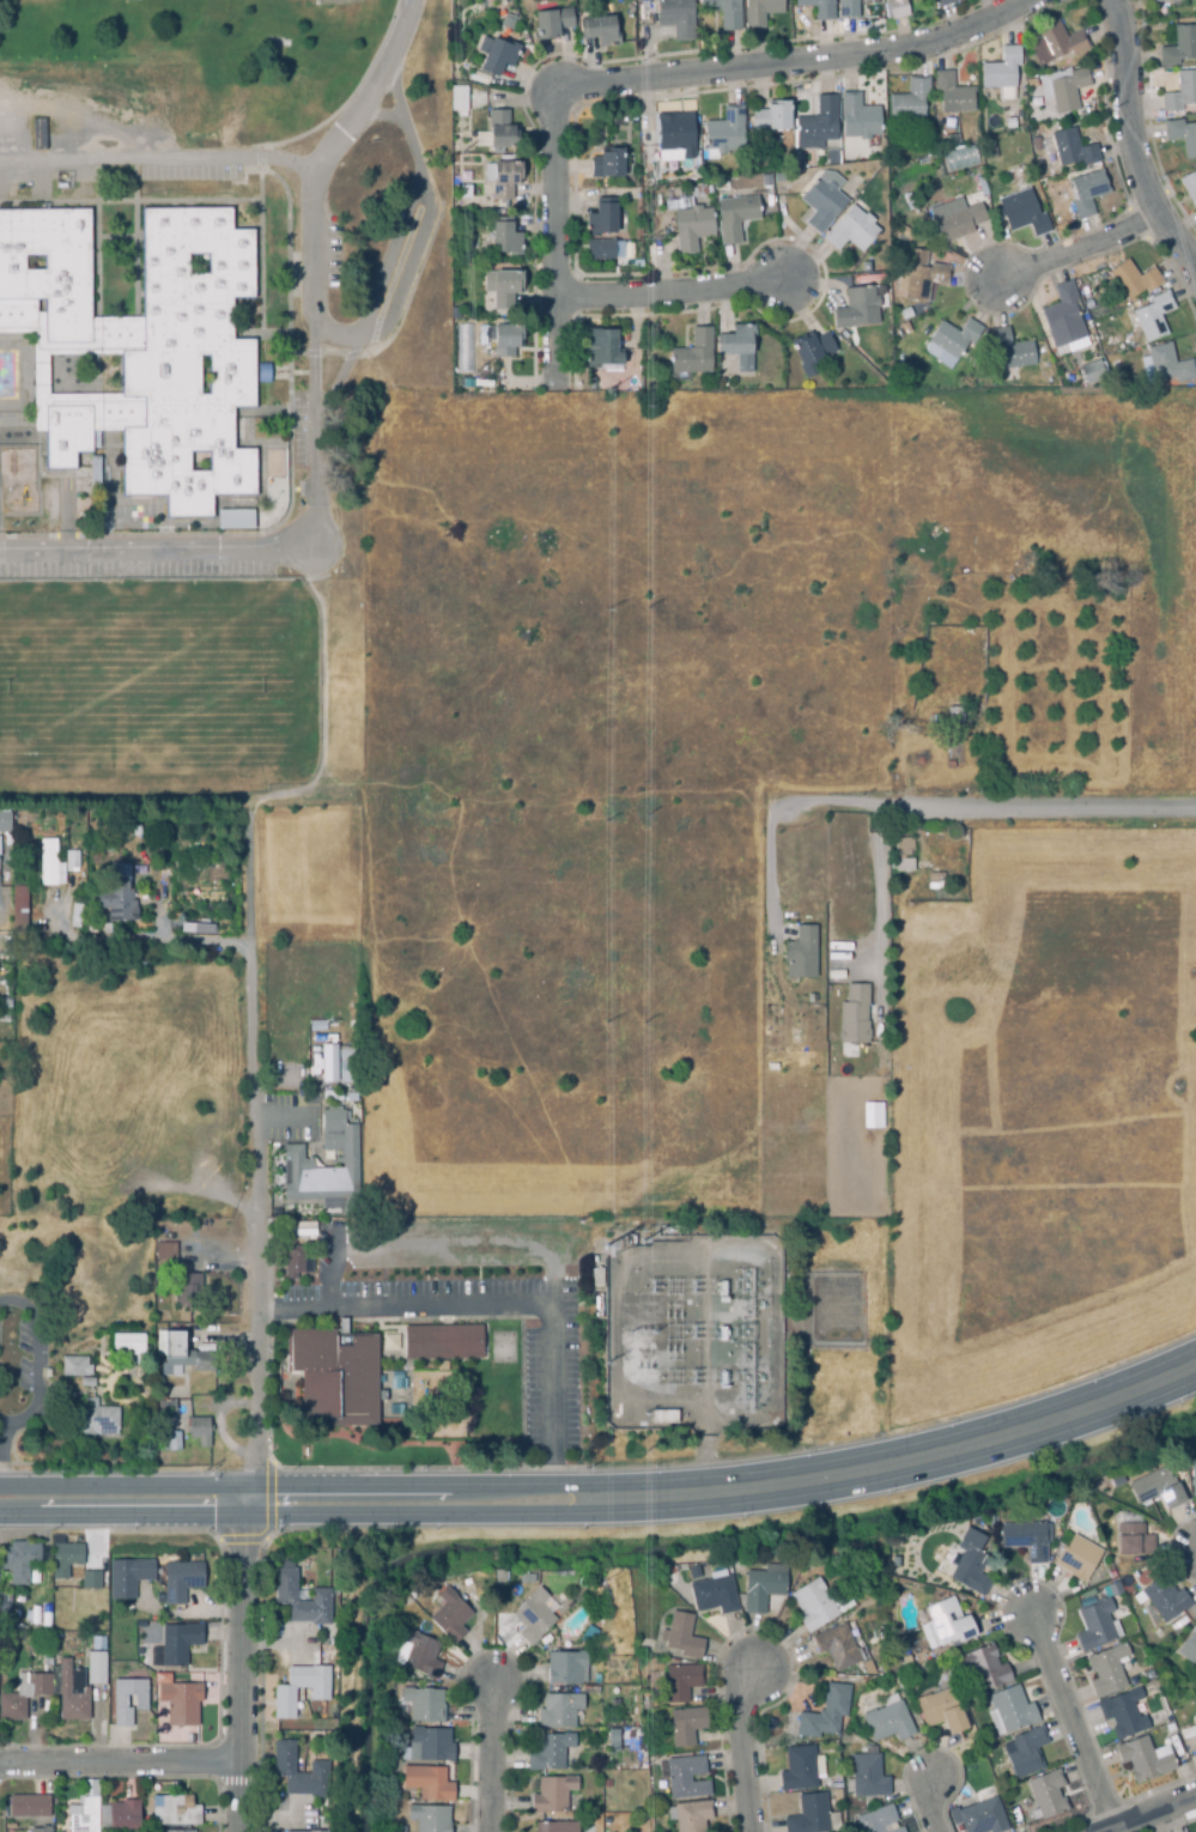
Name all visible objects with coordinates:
building: (942, 2)
building: (1170, 2)
building: (816, 8)
building: (846, 10)
building: (897, 10)
building: (722, 12)
building: (760, 12)
building: (675, 18)
building: (706, 22)
building: (552, 24)
building: (510, 28)
road: (401, 31)
building: (599, 32)
building: (1054, 44)
building: (1179, 47)
building: (497, 57)
power tower: (638, 60)
road: (795, 63)
park: (220, 74)
building: (1001, 74)
building: (480, 78)
building: (1068, 91)
building: (1180, 93)
building: (951, 97)
building: (457, 98)
building: (909, 104)
road: (380, 115)
building: (771, 119)
building: (857, 119)
building: (1015, 123)
building: (816, 125)
building: (500, 132)
building: (724, 133)
building: (674, 134)
building: (1180, 137)
building: (787, 140)
road: (1131, 146)
power tower: (460, 151)
building: (1070, 151)
building: (831, 156)
road: (160, 158)
building: (606, 166)
road: (312, 178)
building: (504, 181)
building: (765, 181)
building: (1189, 187)
building: (697, 193)
building: (1085, 194)
building: (820, 205)
building: (651, 208)
building: (1024, 214)
building: (734, 218)
building: (600, 219)
building: (958, 224)
road: (400, 225)
building: (691, 229)
building: (851, 231)
building: (903, 236)
building: (504, 238)
road: (553, 241)
power tower: (642, 242)
building: (600, 247)
road: (1074, 249)
building: (918, 278)
building: (1133, 280)
building: (504, 290)
road: (667, 291)
building: (856, 309)
building: (925, 317)
building: (1062, 317)
building: (1151, 317)
building: (904, 329)
building: (954, 338)
building: (506, 341)
building: (141, 347)
building: (463, 347)
building: (737, 347)
building: (811, 348)
building: (601, 351)
building: (1009, 353)
building: (692, 356)
building: (1165, 365)
power tower: (468, 371)
building: (1042, 371)
building: (262, 372)
building: (1091, 372)
road: (338, 380)
power tower: (606, 389)
power tower: (643, 389)
building: (97, 474)
building: (233, 518)
road: (261, 547)
power tower: (645, 607)
power tower: (602, 609)
building: (880, 620)
park: (132, 685)
road: (323, 693)
building: (954, 717)
park: (182, 748)
road: (983, 808)
power tower: (643, 815)
power tower: (602, 819)
building: (5, 823)
building: (136, 829)
building: (901, 856)
building: (72, 862)
building: (49, 866)
building: (193, 866)
building: (145, 867)
road: (772, 880)
building: (935, 881)
building: (117, 898)
building: (18, 911)
road: (162, 914)
road: (1, 918)
road: (881, 920)
building: (90, 930)
road: (90, 938)
road: (205, 942)
building: (802, 952)
building: (5, 1007)
building: (854, 1009)
power tower: (641, 1019)
power tower: (600, 1024)
building: (314, 1054)
building: (348, 1064)
building: (329, 1066)
road: (299, 1080)
building: (872, 1114)
road: (283, 1117)
building: (831, 1151)
building: (329, 1160)
road: (212, 1193)
building: (828, 1211)
building: (527, 1227)
power tower: (639, 1232)
power tower: (599, 1237)
road: (445, 1243)
road: (213, 1246)
building: (170, 1251)
road: (652, 1251)
building: (293, 1263)
building: (97, 1281)
building: (190, 1290)
road: (505, 1305)
road: (256, 1324)
power tower: (639, 1326)
power substation: (692, 1331)
road: (226, 1337)
building: (448, 1342)
building: (390, 1343)
building: (132, 1345)
building: (190, 1354)
road: (36, 1360)
road: (129, 1365)
building: (78, 1366)
power tower: (596, 1366)
road: (107, 1370)
building: (50, 1373)
building: (340, 1377)
road: (114, 1379)
road: (104, 1381)
building: (90, 1382)
building: (170, 1383)
building: (396, 1384)
road: (54, 1388)
road: (170, 1389)
road: (102, 1397)
building: (441, 1400)
building: (166, 1407)
building: (394, 1412)
building: (625, 1413)
power tower: (643, 1414)
building: (664, 1418)
building: (99, 1419)
road: (221, 1420)
road: (125, 1430)
building: (202, 1432)
building: (172, 1443)
power tower: (639, 1449)
building: (1194, 1450)
road: (66, 1463)
power tower: (602, 1463)
building: (1192, 1476)
building: (1116, 1482)
road: (1, 1490)
building: (1159, 1490)
road: (606, 1498)
building: (1025, 1537)
power tower: (642, 1541)
building: (1135, 1542)
power tower: (601, 1546)
building: (68, 1558)
building: (1076, 1558)
building: (22, 1560)
building: (969, 1563)
building: (133, 1576)
building: (186, 1581)
building: (91, 1583)
building: (761, 1587)
building: (1113, 1589)
building: (715, 1594)
building: (1164, 1597)
building: (303, 1601)
building: (813, 1606)
building: (5, 1608)
building: (449, 1615)
building: (535, 1619)
building: (139, 1622)
building: (947, 1622)
building: (1094, 1624)
building: (680, 1634)
building: (97, 1642)
building: (183, 1643)
building: (836, 1646)
building: (1189, 1649)
building: (415, 1651)
building: (984, 1666)
building: (95, 1667)
building: (111, 1668)
building: (567, 1669)
building: (1106, 1669)
building: (679, 1682)
building: (71, 1693)
building: (283, 1693)
building: (23, 1694)
building: (119, 1700)
building: (183, 1700)
building: (615, 1703)
building: (423, 1706)
building: (942, 1710)
building: (1010, 1710)
building: (559, 1711)
building: (1123, 1712)
building: (820, 1713)
road: (1070, 1721)
building: (684, 1723)
building: (886, 1723)
building: (1194, 1724)
road: (96, 1725)
building: (615, 1735)
building: (430, 1746)
road: (743, 1749)
building: (550, 1753)
building: (1025, 1754)
road: (493, 1758)
building: (1146, 1760)
road: (119, 1761)
power tower: (642, 1763)
power tower: (603, 1764)
building: (283, 1766)
building: (799, 1770)
building: (686, 1776)
building: (866, 1776)
building: (429, 1784)
building: (1048, 1792)
building: (553, 1796)
building: (28, 1804)
road: (930, 1807)
building: (176, 1813)
road: (1151, 1813)
building: (808, 1814)
building: (693, 1815)
building: (83, 1816)
building: (126, 1818)
building: (979, 1818)
building: (430, 1819)
building: (1016, 1819)
building: (875, 1820)
building: (553, 1826)
building: (178, 1830)
building: (400, 1830)
building: (38, 1831)
building: (305, 1831)

